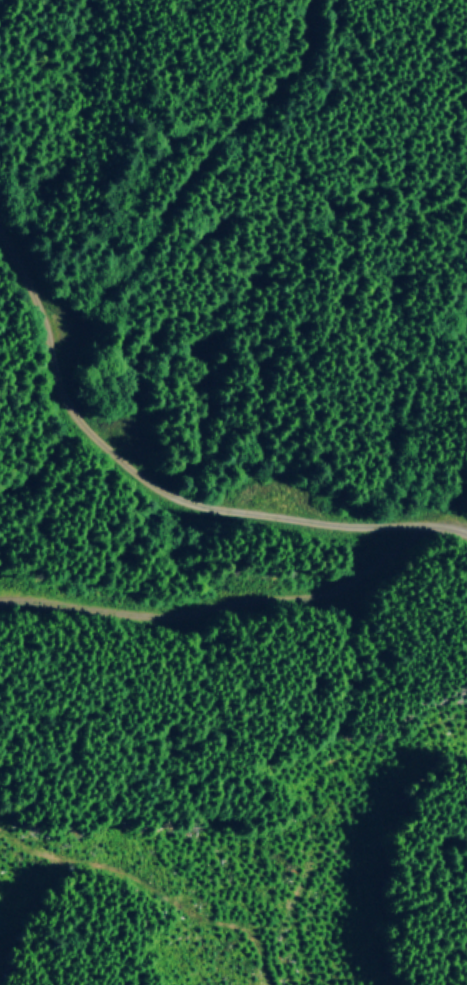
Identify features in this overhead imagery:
road: (197, 176)
road: (137, 471)
road: (453, 528)
road: (229, 607)

